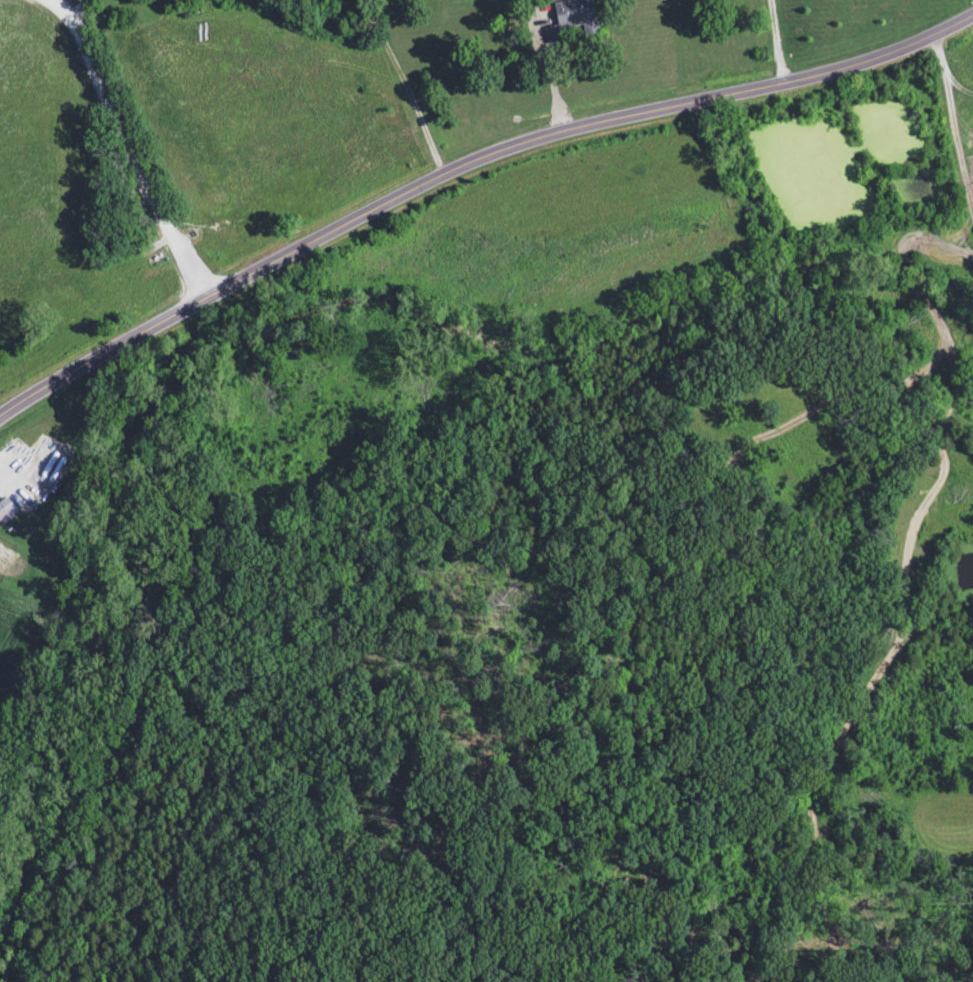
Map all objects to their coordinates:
road: (79, 13)
building: (571, 20)
road: (780, 43)
road: (949, 73)
road: (553, 75)
road: (405, 85)
road: (127, 149)
road: (465, 166)
building: (935, 257)
building: (6, 512)

